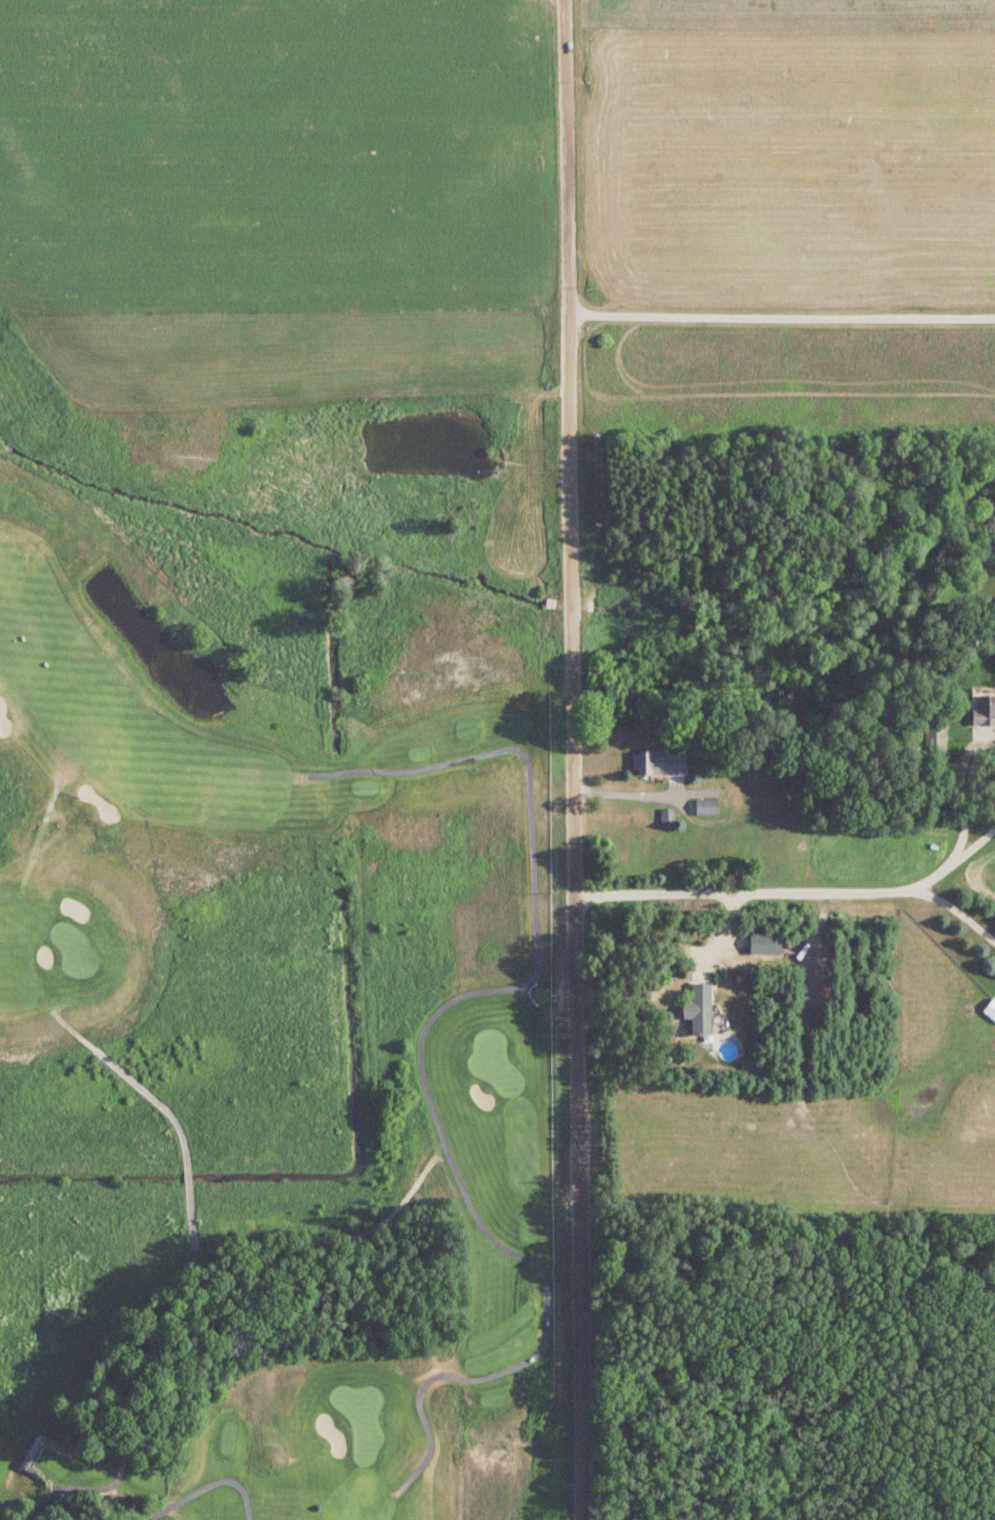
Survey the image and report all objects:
road: (781, 314)
building: (985, 710)
building: (935, 737)
road: (573, 759)
building: (660, 763)
road: (960, 788)
road: (627, 797)
building: (708, 807)
road: (975, 843)
road: (933, 876)
road: (792, 890)
building: (765, 943)
building: (701, 1010)
building: (991, 1010)

